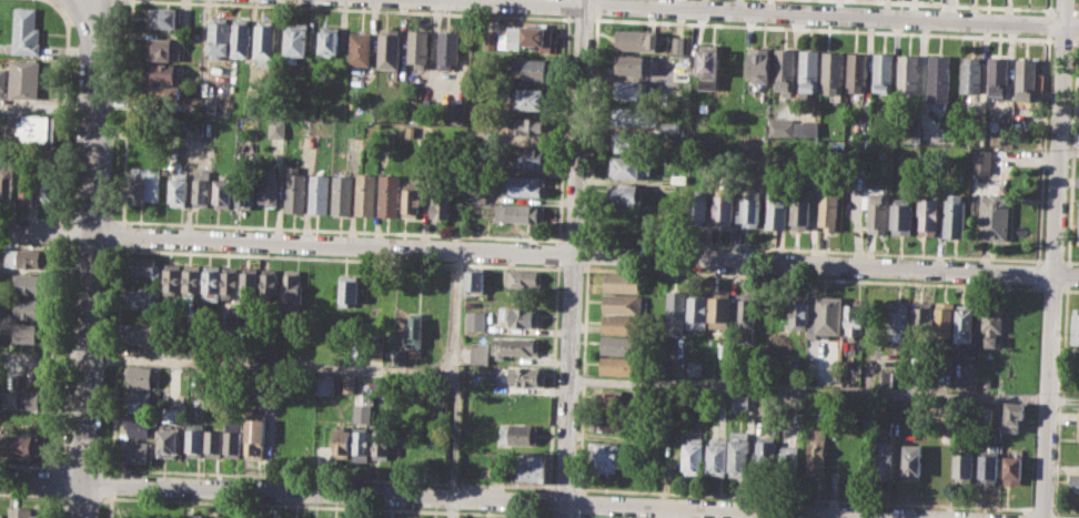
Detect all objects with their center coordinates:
road: (949, 4)
road: (595, 6)
road: (567, 7)
road: (1047, 7)
road: (1077, 7)
road: (364, 9)
road: (1062, 9)
road: (1076, 10)
road: (791, 12)
building: (163, 17)
road: (582, 18)
road: (1047, 23)
road: (1076, 24)
road: (820, 29)
building: (24, 33)
building: (526, 35)
building: (220, 38)
building: (242, 38)
building: (488, 39)
building: (635, 39)
road: (1061, 39)
building: (330, 40)
road: (1075, 40)
building: (265, 41)
building: (296, 41)
building: (678, 44)
building: (163, 48)
building: (360, 48)
building: (389, 48)
building: (417, 48)
building: (448, 48)
building: (633, 64)
building: (705, 64)
building: (758, 68)
building: (530, 69)
building: (679, 70)
building: (783, 70)
building: (831, 71)
building: (856, 71)
building: (162, 72)
building: (881, 72)
building: (807, 73)
building: (997, 73)
building: (908, 74)
building: (970, 74)
building: (23, 79)
building: (938, 79)
building: (1025, 79)
building: (632, 90)
building: (164, 95)
building: (531, 99)
building: (206, 104)
road: (46, 105)
road: (63, 105)
road: (125, 112)
building: (633, 116)
building: (531, 125)
building: (779, 125)
building: (278, 128)
road: (591, 128)
building: (39, 129)
road: (562, 129)
building: (805, 129)
building: (911, 133)
building: (386, 140)
building: (631, 142)
road: (1041, 149)
road: (1071, 150)
road: (1068, 151)
building: (535, 156)
building: (980, 160)
building: (631, 166)
building: (1077, 180)
building: (6, 183)
building: (144, 184)
building: (524, 184)
building: (28, 185)
building: (48, 187)
building: (201, 187)
building: (268, 187)
building: (178, 189)
building: (294, 190)
building: (223, 192)
building: (244, 192)
building: (320, 193)
building: (365, 193)
building: (342, 194)
building: (625, 194)
building: (390, 195)
building: (475, 195)
building: (410, 202)
building: (441, 203)
building: (723, 206)
building: (875, 206)
building: (697, 207)
building: (750, 209)
building: (800, 209)
building: (776, 210)
building: (829, 210)
building: (525, 212)
building: (952, 213)
road: (33, 215)
building: (928, 215)
building: (994, 215)
building: (901, 216)
road: (90, 217)
road: (336, 228)
building: (1078, 228)
road: (58, 231)
road: (121, 234)
road: (572, 240)
road: (31, 245)
road: (85, 247)
road: (811, 250)
road: (538, 252)
road: (587, 252)
road: (556, 253)
building: (23, 258)
road: (88, 258)
road: (333, 258)
road: (574, 258)
road: (1053, 258)
road: (1051, 260)
road: (1069, 262)
building: (144, 266)
road: (569, 267)
road: (1036, 273)
road: (1066, 274)
building: (172, 277)
building: (192, 277)
building: (523, 277)
road: (810, 277)
building: (213, 280)
building: (475, 280)
building: (232, 281)
building: (251, 281)
building: (270, 282)
building: (623, 282)
building: (31, 283)
road: (1036, 285)
road: (1050, 287)
building: (291, 288)
building: (349, 290)
road: (1069, 290)
building: (142, 297)
building: (623, 303)
building: (31, 307)
building: (675, 312)
building: (697, 312)
building: (719, 312)
building: (798, 313)
building: (521, 316)
building: (745, 316)
building: (827, 316)
building: (898, 318)
building: (924, 318)
building: (945, 318)
building: (476, 319)
building: (854, 319)
building: (965, 322)
building: (991, 323)
building: (623, 324)
building: (1076, 326)
building: (412, 328)
building: (27, 331)
building: (137, 333)
building: (619, 344)
building: (514, 346)
building: (480, 353)
road: (42, 354)
road: (51, 355)
road: (114, 357)
road: (271, 363)
building: (618, 365)
building: (695, 367)
building: (37, 374)
building: (139, 375)
building: (527, 376)
road: (551, 377)
road: (583, 377)
building: (887, 377)
road: (455, 383)
building: (347, 384)
building: (1072, 384)
building: (324, 386)
road: (824, 389)
road: (1059, 399)
building: (22, 400)
building: (139, 400)
building: (611, 400)
building: (740, 402)
building: (984, 413)
building: (169, 414)
building: (1014, 415)
building: (1078, 417)
building: (611, 423)
building: (140, 426)
building: (468, 426)
building: (517, 434)
building: (254, 435)
building: (194, 438)
building: (213, 438)
building: (233, 438)
building: (341, 441)
building: (167, 443)
building: (362, 444)
building: (381, 444)
building: (21, 445)
building: (138, 450)
building: (816, 450)
building: (668, 451)
building: (694, 454)
building: (739, 454)
building: (765, 454)
building: (606, 456)
building: (717, 456)
building: (788, 460)
building: (883, 460)
building: (912, 461)
road: (29, 464)
road: (80, 465)
building: (964, 466)
building: (988, 466)
building: (528, 467)
building: (1012, 469)
road: (326, 476)
road: (47, 479)
road: (110, 483)
building: (1073, 484)
road: (563, 487)
road: (26, 494)
road: (77, 495)
road: (108, 497)
road: (801, 497)
road: (458, 498)
road: (546, 500)
road: (577, 501)
road: (46, 504)
road: (320, 505)
road: (1040, 507)
road: (1063, 508)
building: (21, 512)
road: (546, 514)
building: (1, 515)
road: (561, 515)
road: (576, 515)
building: (193, 516)
building: (219, 516)
road: (1055, 516)
building: (501, 517)
road: (589, 517)

